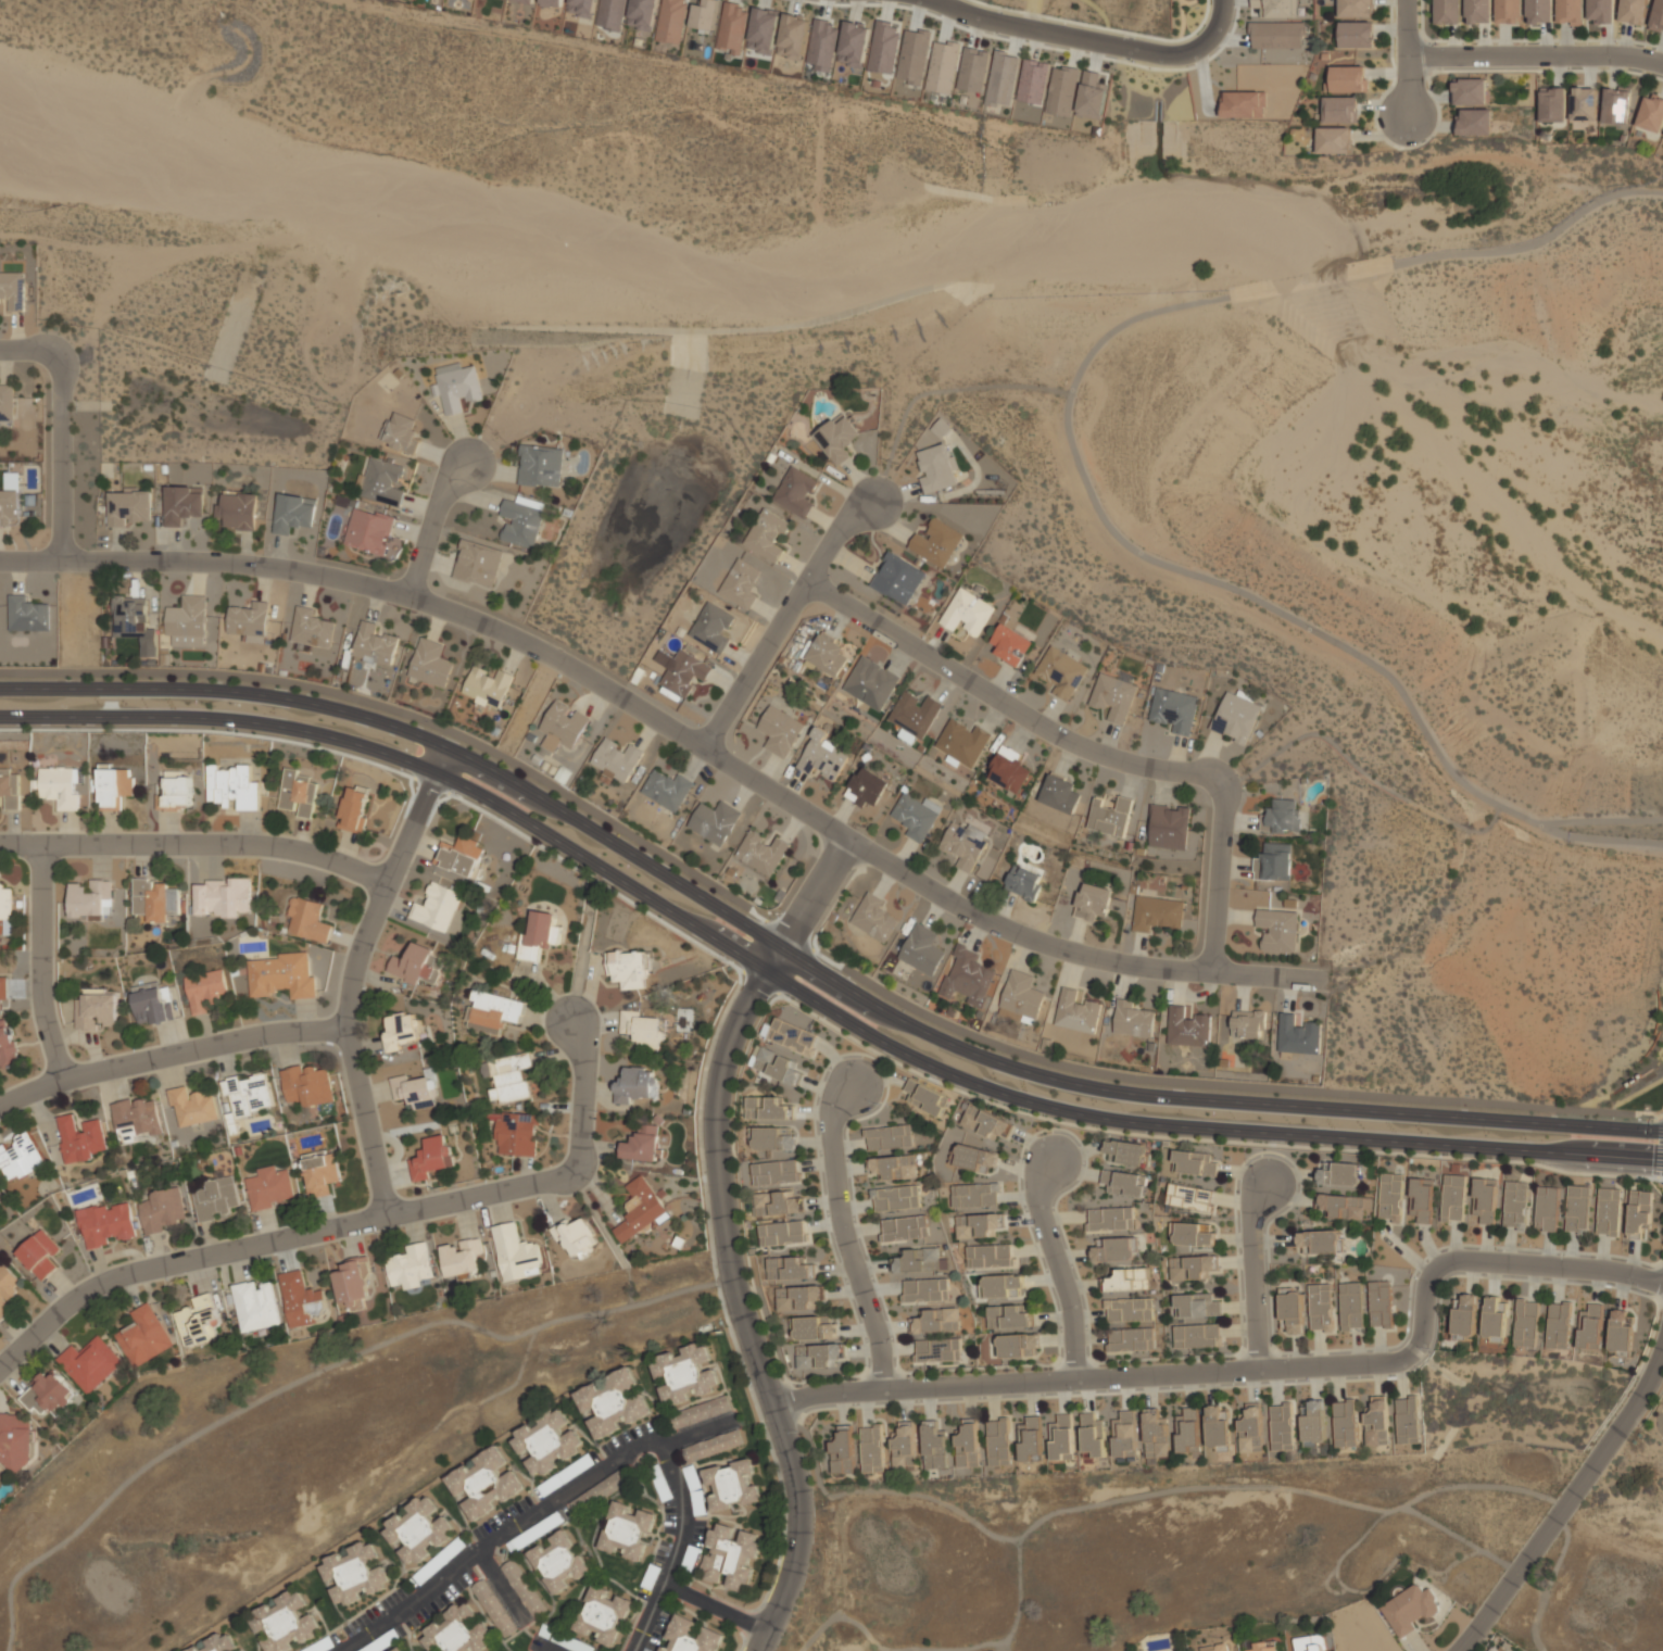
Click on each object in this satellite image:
building: (526, 1)
building: (553, 2)
building: (581, 8)
building: (1276, 8)
building: (1356, 8)
building: (1600, 10)
building: (1478, 11)
building: (1508, 11)
building: (1539, 11)
building: (1633, 11)
building: (1448, 12)
building: (1570, 12)
building: (610, 14)
building: (642, 14)
building: (704, 14)
building: (1656, 15)
building: (670, 21)
building: (730, 27)
building: (764, 29)
building: (1357, 34)
building: (1276, 35)
building: (794, 36)
road: (1093, 40)
building: (853, 45)
street lamp: (1436, 45)
building: (883, 47)
building: (914, 55)
road: (1534, 55)
road: (1404, 56)
building: (942, 67)
building: (972, 70)
building: (1347, 78)
building: (1001, 79)
building: (1033, 81)
building: (1061, 90)
building: (1470, 91)
building: (1092, 94)
building: (1584, 103)
building: (1244, 104)
building: (1553, 104)
building: (1616, 105)
building: (1339, 109)
building: (1651, 114)
building: (1475, 122)
building: (1334, 140)
river: (937, 259)
building: (12, 290)
building: (456, 387)
road: (931, 391)
building: (7, 403)
building: (941, 427)
road: (61, 431)
building: (401, 433)
building: (836, 439)
road: (1071, 461)
building: (540, 467)
building: (937, 468)
building: (381, 481)
building: (797, 490)
building: (11, 500)
building: (182, 503)
building: (130, 508)
building: (238, 509)
building: (293, 513)
building: (520, 524)
road: (431, 527)
building: (368, 532)
building: (767, 534)
building: (936, 543)
road: (30, 560)
building: (477, 564)
building: (906, 582)
building: (741, 583)
building: (967, 613)
building: (26, 614)
building: (129, 617)
road: (782, 619)
building: (250, 620)
building: (187, 622)
building: (713, 627)
building: (310, 628)
building: (374, 644)
building: (1010, 646)
building: (827, 654)
building: (430, 664)
building: (684, 672)
building: (1061, 672)
building: (871, 683)
building: (487, 686)
building: (1114, 696)
building: (1175, 709)
building: (914, 714)
building: (1237, 716)
building: (563, 726)
building: (781, 731)
building: (905, 735)
building: (962, 742)
road: (702, 746)
road: (1086, 748)
road: (1358, 751)
building: (824, 757)
building: (617, 760)
building: (1008, 769)
building: (113, 785)
building: (232, 785)
building: (60, 786)
building: (868, 787)
building: (10, 789)
building: (667, 790)
building: (176, 791)
building: (1060, 793)
building: (297, 795)
building: (354, 808)
building: (1282, 816)
building: (917, 817)
building: (1110, 817)
building: (714, 820)
building: (1169, 827)
street lamp: (30, 830)
road: (1604, 835)
road: (197, 844)
building: (963, 844)
building: (763, 853)
building: (459, 856)
building: (1274, 862)
building: (1023, 882)
building: (223, 897)
building: (91, 898)
building: (154, 898)
building: (1093, 900)
road: (808, 903)
building: (437, 907)
building: (5, 908)
building: (1157, 912)
building: (873, 917)
building: (307, 920)
building: (1278, 930)
building: (540, 935)
road: (583, 941)
building: (922, 949)
road: (40, 962)
road: (810, 962)
building: (416, 965)
building: (629, 969)
building: (282, 973)
road: (354, 973)
building: (968, 978)
building: (3, 987)
building: (205, 990)
road: (809, 993)
building: (1021, 998)
building: (153, 1006)
building: (97, 1009)
building: (493, 1009)
building: (1076, 1012)
building: (1133, 1020)
building: (1249, 1024)
building: (1188, 1028)
building: (641, 1029)
building: (401, 1030)
building: (1298, 1034)
building: (792, 1036)
building: (8, 1046)
street lamp: (266, 1049)
road: (168, 1055)
building: (778, 1066)
building: (507, 1076)
building: (634, 1085)
building: (307, 1086)
building: (413, 1091)
building: (247, 1095)
road: (583, 1096)
building: (927, 1097)
street lamp: (878, 1105)
building: (192, 1107)
building: (767, 1108)
street lamp: (596, 1111)
building: (136, 1120)
building: (985, 1122)
building: (515, 1133)
building: (890, 1137)
building: (80, 1138)
building: (773, 1139)
building: (640, 1147)
building: (1129, 1151)
building: (18, 1157)
building: (431, 1158)
building: (974, 1158)
street lamp: (1022, 1159)
street lamp: (1250, 1160)
building: (1195, 1163)
building: (893, 1167)
building: (774, 1171)
building: (320, 1172)
building: (1343, 1174)
building: (1124, 1183)
building: (269, 1187)
building: (974, 1195)
building: (1188, 1197)
building: (1391, 1197)
building: (1452, 1197)
building: (895, 1198)
building: (216, 1199)
building: (1421, 1199)
building: (1484, 1200)
building: (776, 1203)
building: (1515, 1205)
building: (1346, 1206)
building: (1546, 1208)
building: (1577, 1208)
building: (639, 1209)
building: (163, 1210)
building: (1608, 1211)
building: (1638, 1212)
building: (1110, 1219)
building: (108, 1223)
building: (977, 1225)
building: (905, 1228)
street lamp: (377, 1233)
building: (781, 1233)
building: (1193, 1234)
road: (844, 1235)
building: (575, 1236)
building: (1319, 1240)
road: (273, 1242)
building: (1113, 1250)
building: (515, 1253)
building: (39, 1255)
building: (988, 1256)
building: (462, 1257)
building: (918, 1260)
road: (1058, 1265)
building: (411, 1266)
building: (1193, 1266)
building: (793, 1269)
road: (1252, 1274)
building: (1129, 1280)
building: (353, 1283)
building: (1003, 1286)
building: (7, 1287)
building: (927, 1289)
street lamp: (1639, 1290)
building: (798, 1296)
building: (301, 1300)
building: (1379, 1303)
building: (1197, 1305)
building: (255, 1306)
building: (1351, 1306)
building: (1321, 1307)
building: (1129, 1309)
road: (740, 1310)
building: (1292, 1310)
building: (1008, 1315)
building: (1465, 1315)
building: (1495, 1319)
building: (198, 1321)
building: (936, 1321)
building: (1526, 1323)
building: (1558, 1325)
building: (812, 1327)
building: (1590, 1327)
building: (1618, 1329)
building: (143, 1335)
building: (1197, 1335)
building: (1131, 1339)
street lamp: (9, 1340)
building: (1018, 1345)
street lamp: (1431, 1349)
building: (938, 1350)
building: (818, 1356)
street lamp: (1230, 1359)
building: (89, 1363)
road: (1252, 1370)
building: (686, 1373)
street lamp: (916, 1376)
street lamp: (1075, 1391)
building: (48, 1394)
building: (612, 1402)
building: (701, 1411)
building: (1407, 1421)
building: (1376, 1422)
building: (1314, 1423)
building: (1344, 1424)
building: (1282, 1427)
building: (1218, 1428)
building: (1250, 1428)
building: (1186, 1429)
road: (695, 1433)
building: (1124, 1434)
building: (1093, 1435)
building: (1155, 1435)
parking lot: (628, 1436)
building: (1061, 1438)
building: (1030, 1439)
building: (15, 1441)
building: (546, 1442)
building: (997, 1442)
building: (967, 1444)
building: (711, 1446)
building: (934, 1446)
building: (904, 1447)
building: (871, 1449)
building: (842, 1451)
parking lot: (566, 1475)
road: (588, 1478)
building: (484, 1483)
building: (732, 1485)
building: (599, 1492)
parking lot: (665, 1499)
road: (1571, 1503)
parking lot: (502, 1517)
parking lot: (539, 1529)
building: (627, 1530)
building: (418, 1532)
parking lot: (694, 1546)
building: (729, 1557)
building: (558, 1561)
parking lot: (439, 1562)
parking lot: (653, 1570)
building: (354, 1574)
road: (501, 1586)
building: (522, 1588)
parking lot: (441, 1599)
building: (493, 1608)
road: (715, 1608)
building: (1409, 1609)
parking lot: (376, 1610)
building: (602, 1615)
building: (289, 1617)
building: (457, 1630)
parking lot: (658, 1630)
building: (691, 1637)
parking lot: (386, 1639)
parking lot: (563, 1639)
building: (564, 1640)
building: (216, 1643)
parking lot: (324, 1643)
building: (1309, 1643)
road: (542, 1646)
building: (1265, 1646)
building: (1215, 1647)
building: (1497, 1648)
building: (401, 1649)

